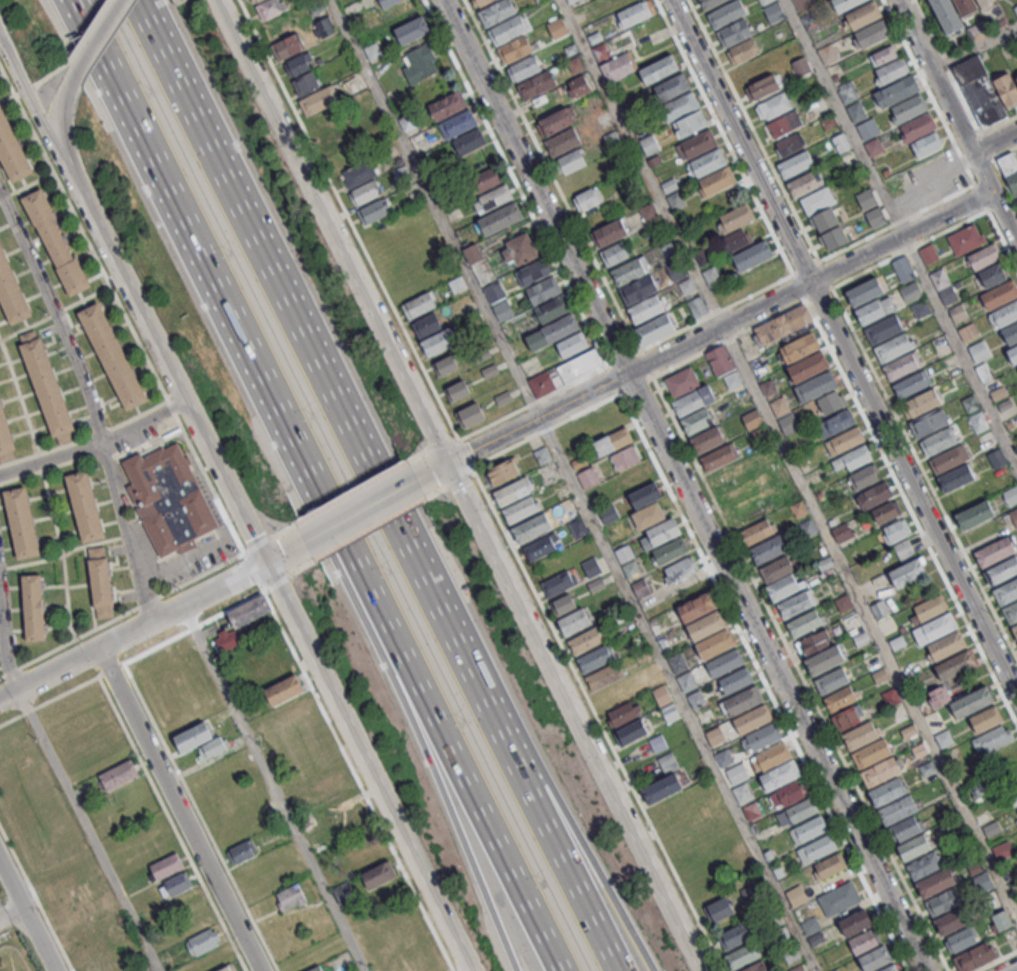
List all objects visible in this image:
building: (999, 0)
building: (255, 1)
building: (390, 2)
building: (482, 2)
building: (986, 2)
building: (709, 3)
building: (803, 3)
building: (846, 4)
building: (967, 6)
building: (270, 8)
building: (498, 12)
building: (635, 13)
building: (727, 14)
building: (865, 15)
building: (948, 15)
building: (324, 27)
building: (557, 28)
building: (414, 29)
building: (509, 29)
building: (735, 33)
building: (874, 33)
road: (97, 40)
building: (288, 46)
road: (975, 47)
building: (514, 48)
building: (743, 50)
building: (601, 51)
building: (883, 55)
building: (422, 63)
building: (299, 65)
building: (618, 66)
road: (948, 67)
building: (524, 68)
building: (662, 69)
building: (891, 71)
building: (1016, 79)
building: (306, 84)
road: (24, 85)
building: (536, 85)
building: (579, 86)
building: (763, 87)
building: (673, 88)
building: (985, 90)
building: (898, 91)
road: (929, 92)
building: (318, 101)
building: (450, 105)
building: (774, 106)
building: (682, 107)
building: (910, 108)
road: (60, 109)
road: (844, 118)
road: (958, 119)
building: (556, 121)
building: (460, 124)
building: (691, 124)
building: (783, 124)
building: (919, 127)
building: (868, 128)
road: (754, 130)
road: (986, 131)
road: (725, 137)
building: (469, 141)
building: (562, 142)
road: (996, 142)
building: (649, 144)
building: (700, 144)
building: (789, 144)
building: (12, 151)
building: (571, 161)
road: (641, 162)
building: (710, 163)
building: (797, 164)
road: (1000, 170)
building: (1010, 170)
building: (359, 174)
building: (485, 179)
building: (719, 181)
building: (805, 183)
road: (26, 185)
road: (559, 187)
road: (168, 192)
building: (366, 192)
road: (524, 196)
building: (588, 198)
building: (492, 199)
building: (819, 200)
building: (871, 207)
road: (436, 209)
building: (374, 210)
road: (910, 217)
building: (500, 218)
building: (738, 218)
building: (825, 219)
building: (610, 232)
road: (356, 234)
road: (939, 234)
road: (1016, 236)
building: (834, 238)
building: (965, 240)
building: (56, 241)
building: (736, 241)
building: (518, 250)
building: (473, 253)
building: (615, 253)
building: (755, 256)
building: (983, 256)
road: (820, 261)
building: (532, 272)
building: (993, 275)
building: (639, 289)
building: (864, 291)
building: (12, 292)
road: (819, 294)
building: (498, 300)
building: (419, 304)
road: (729, 305)
building: (647, 308)
building: (700, 308)
road: (121, 310)
building: (874, 310)
road: (58, 313)
road: (291, 314)
building: (1006, 314)
building: (426, 325)
building: (782, 325)
building: (655, 330)
building: (884, 330)
building: (554, 332)
building: (1011, 334)
road: (698, 338)
building: (439, 342)
building: (574, 344)
road: (845, 347)
building: (800, 348)
building: (893, 349)
road: (158, 351)
road: (960, 351)
building: (1014, 354)
building: (112, 355)
road: (624, 357)
building: (720, 360)
building: (448, 366)
building: (579, 366)
building: (810, 366)
building: (903, 366)
building: (681, 381)
building: (542, 384)
building: (821, 385)
building: (912, 385)
building: (46, 386)
building: (460, 391)
road: (533, 401)
building: (695, 401)
building: (832, 402)
building: (925, 403)
building: (473, 415)
road: (143, 421)
building: (697, 421)
building: (839, 421)
building: (930, 424)
building: (6, 437)
building: (708, 439)
building: (613, 441)
building: (846, 441)
building: (939, 442)
road: (442, 444)
road: (414, 455)
building: (719, 456)
building: (626, 457)
building: (853, 458)
building: (953, 458)
building: (997, 458)
road: (51, 459)
traffic signals: (446, 467)
building: (503, 471)
road: (925, 472)
building: (864, 476)
building: (633, 477)
building: (958, 478)
road: (460, 479)
road: (686, 485)
road: (456, 488)
building: (515, 491)
road: (347, 492)
road: (433, 493)
building: (1011, 494)
building: (648, 495)
building: (874, 495)
building: (169, 499)
building: (84, 506)
building: (524, 509)
building: (886, 512)
road: (911, 513)
building: (611, 515)
building: (977, 515)
road: (354, 517)
building: (21, 522)
building: (534, 528)
road: (280, 529)
road: (367, 530)
road: (127, 531)
building: (666, 531)
building: (894, 531)
building: (842, 532)
building: (758, 533)
road: (254, 545)
building: (544, 547)
building: (771, 549)
building: (904, 549)
building: (673, 551)
road: (515, 552)
building: (996, 552)
building: (624, 553)
traffic signals: (266, 566)
road: (301, 567)
building: (593, 568)
building: (633, 569)
building: (680, 569)
building: (778, 569)
building: (1004, 571)
building: (908, 572)
building: (100, 582)
building: (562, 583)
road: (259, 585)
building: (784, 588)
building: (1006, 592)
building: (566, 605)
building: (796, 605)
building: (697, 606)
building: (32, 607)
building: (930, 607)
building: (1011, 612)
road: (121, 615)
building: (241, 620)
road: (150, 621)
building: (576, 621)
road: (870, 622)
building: (806, 624)
building: (707, 625)
building: (934, 628)
building: (1014, 630)
road: (5, 640)
building: (588, 641)
building: (814, 642)
building: (716, 644)
building: (945, 645)
road: (131, 657)
building: (596, 659)
building: (826, 661)
building: (680, 663)
building: (726, 663)
building: (955, 665)
road: (801, 673)
road: (391, 677)
building: (605, 677)
road: (411, 678)
building: (737, 681)
road: (764, 681)
building: (833, 681)
building: (688, 682)
building: (283, 689)
road: (678, 694)
building: (939, 696)
building: (840, 698)
building: (697, 700)
building: (743, 701)
building: (972, 702)
building: (623, 713)
building: (672, 713)
building: (848, 717)
building: (986, 718)
building: (754, 720)
building: (631, 732)
building: (864, 735)
building: (193, 736)
building: (763, 738)
building: (660, 744)
building: (872, 754)
building: (773, 757)
building: (670, 763)
road: (367, 768)
building: (882, 773)
building: (119, 774)
building: (782, 776)
road: (358, 779)
road: (273, 787)
building: (665, 789)
building: (889, 793)
road: (555, 796)
building: (1012, 799)
road: (532, 800)
road: (182, 808)
building: (804, 811)
building: (898, 811)
road: (199, 816)
building: (351, 820)
building: (814, 829)
road: (87, 830)
building: (906, 830)
building: (916, 848)
building: (818, 850)
building: (243, 851)
building: (166, 865)
building: (375, 865)
building: (937, 884)
building: (175, 885)
building: (343, 892)
building: (796, 895)
building: (289, 897)
building: (841, 900)
building: (944, 903)
building: (721, 911)
road: (29, 913)
building: (955, 921)
building: (857, 924)
building: (736, 936)
building: (961, 939)
building: (202, 941)
building: (864, 943)
building: (974, 956)
building: (744, 957)
building: (878, 960)
road: (995, 960)
building: (101, 966)
building: (759, 967)
building: (228, 968)
building: (315, 969)
building: (893, 969)
road: (1014, 969)

